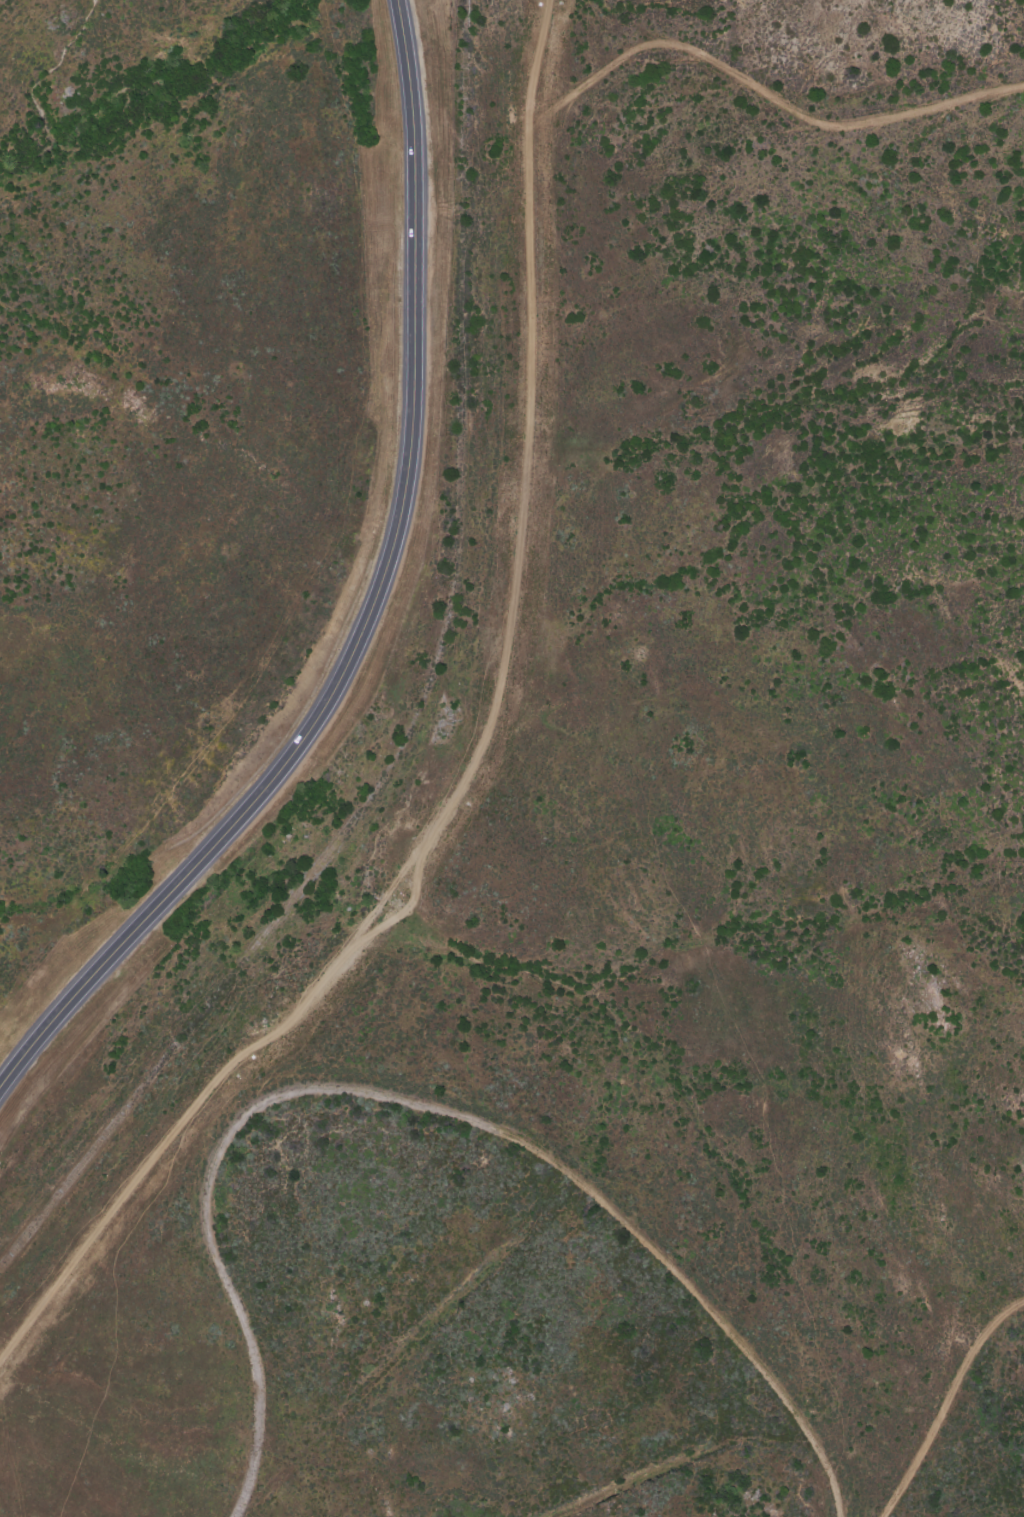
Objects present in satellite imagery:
road: (373, 608)
road: (475, 761)

